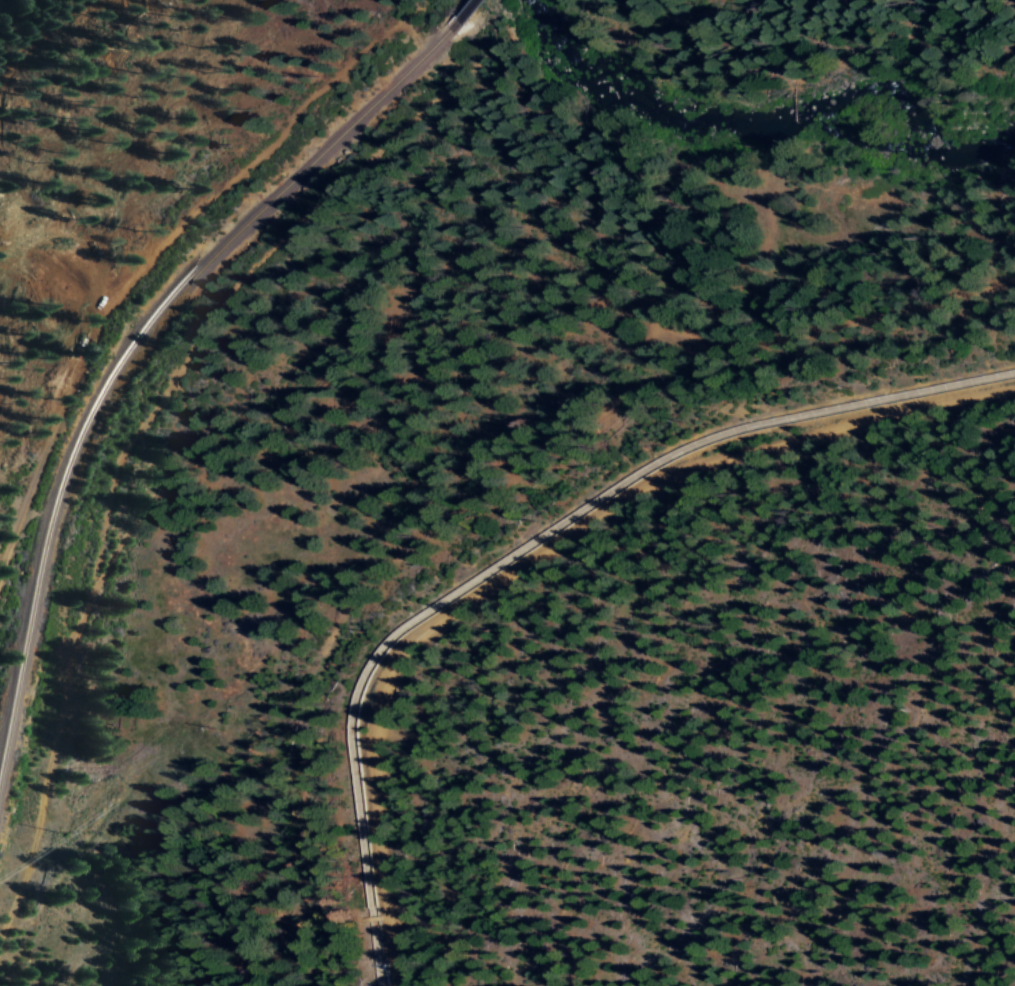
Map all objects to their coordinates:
railway: (463, 12)
railway: (129, 355)
road: (585, 585)

